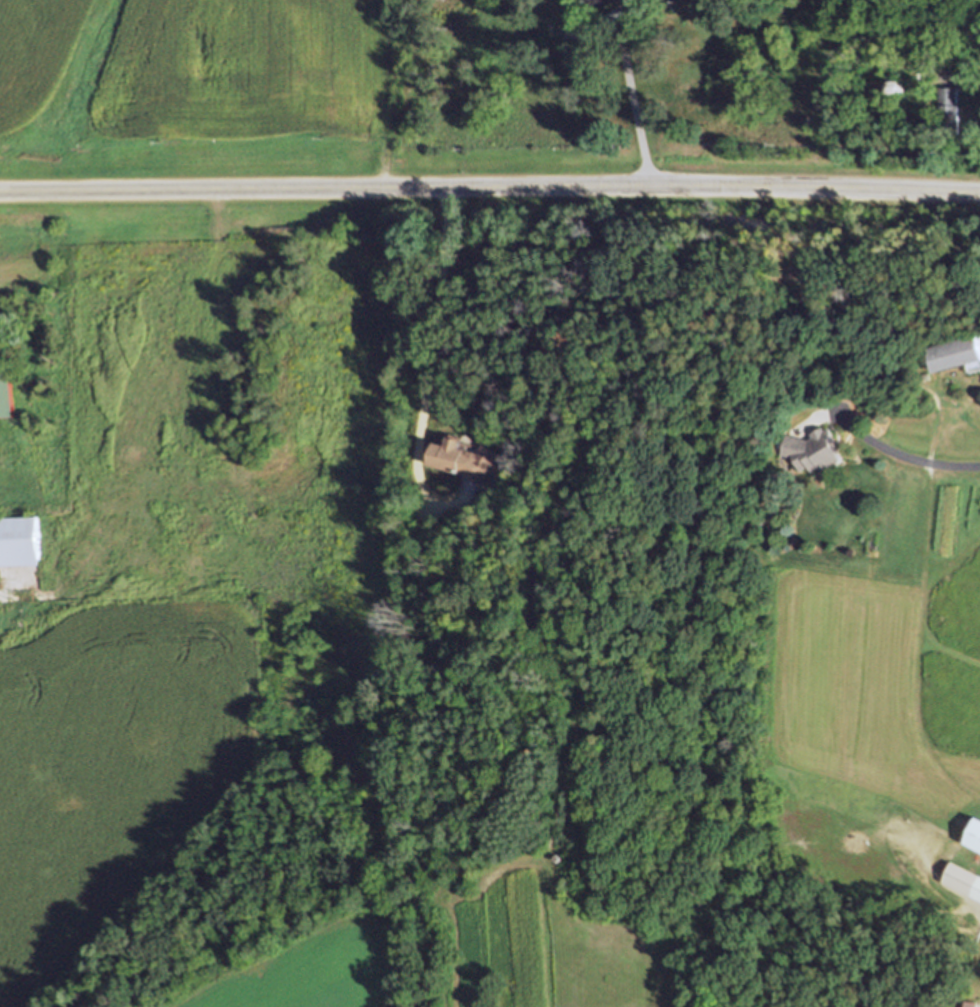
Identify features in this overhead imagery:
building: (640, 4)
building: (947, 94)
road: (633, 99)
road: (975, 115)
building: (948, 119)
road: (490, 187)
building: (956, 354)
road: (428, 359)
building: (925, 377)
building: (6, 386)
road: (883, 447)
building: (814, 449)
building: (459, 460)
building: (19, 540)
building: (963, 879)
building: (965, 1003)

